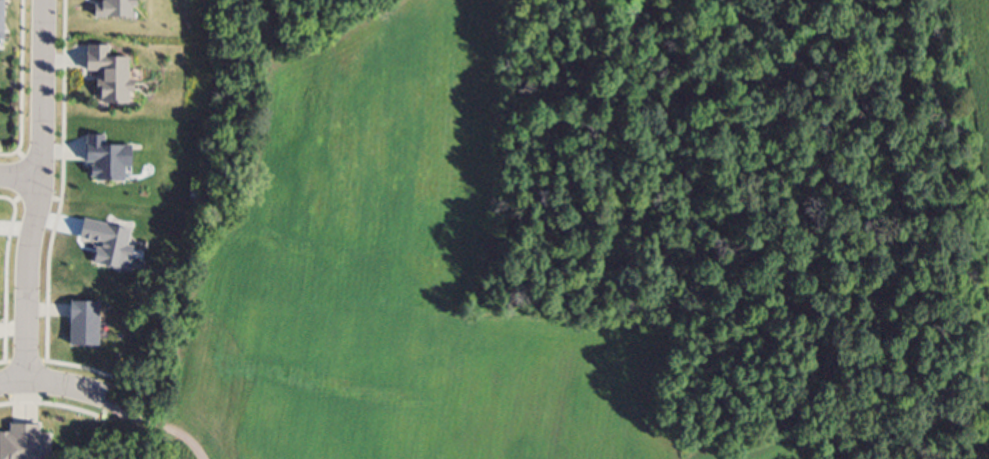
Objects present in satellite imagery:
building: (6, 22)
building: (118, 79)
road: (21, 180)
road: (41, 191)
road: (57, 387)
road: (160, 425)
building: (27, 444)

